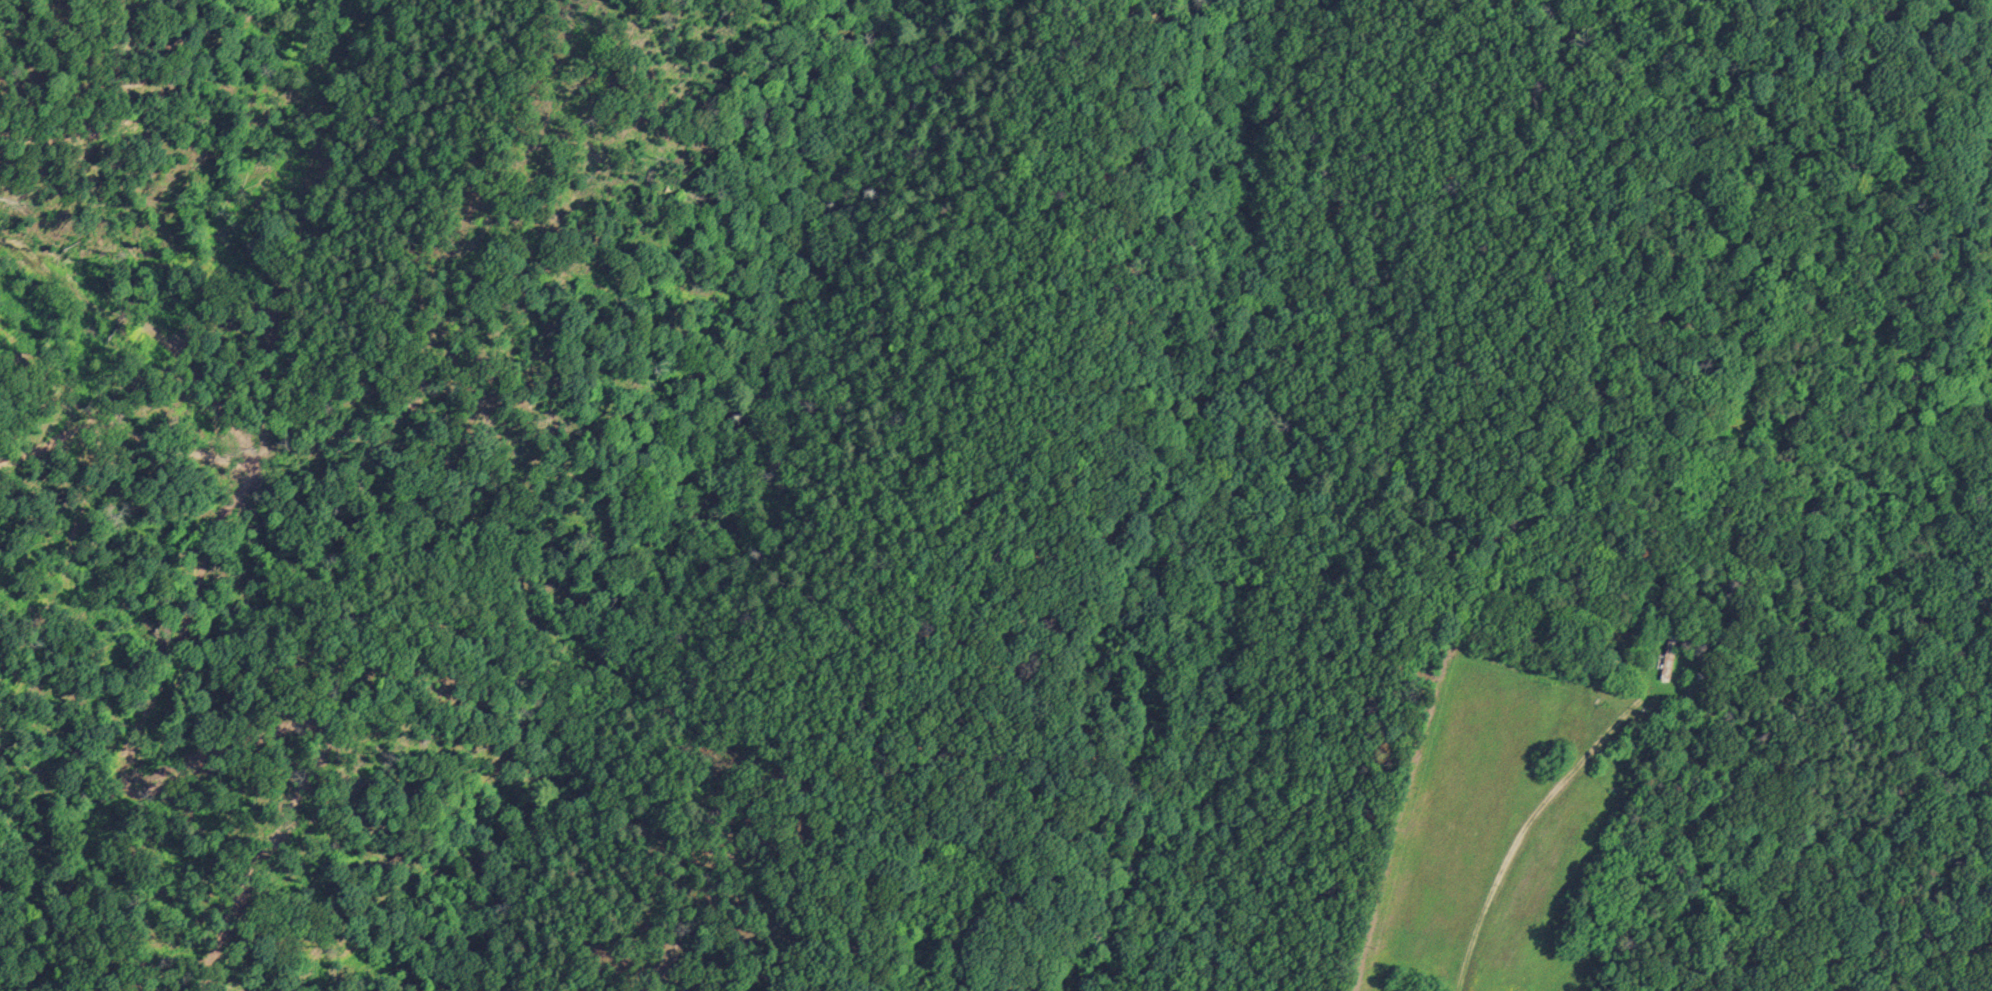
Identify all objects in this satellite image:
building: (1669, 656)

